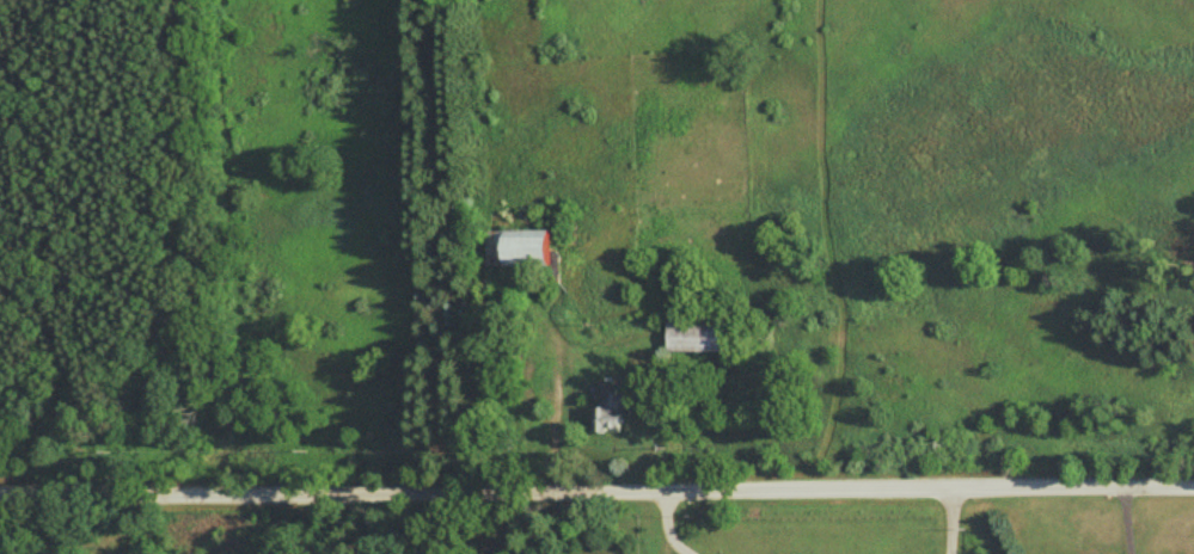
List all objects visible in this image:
building: (523, 251)
building: (698, 333)
building: (616, 413)
road: (596, 493)
road: (1123, 521)
road: (951, 523)
road: (667, 529)
road: (558, 533)

